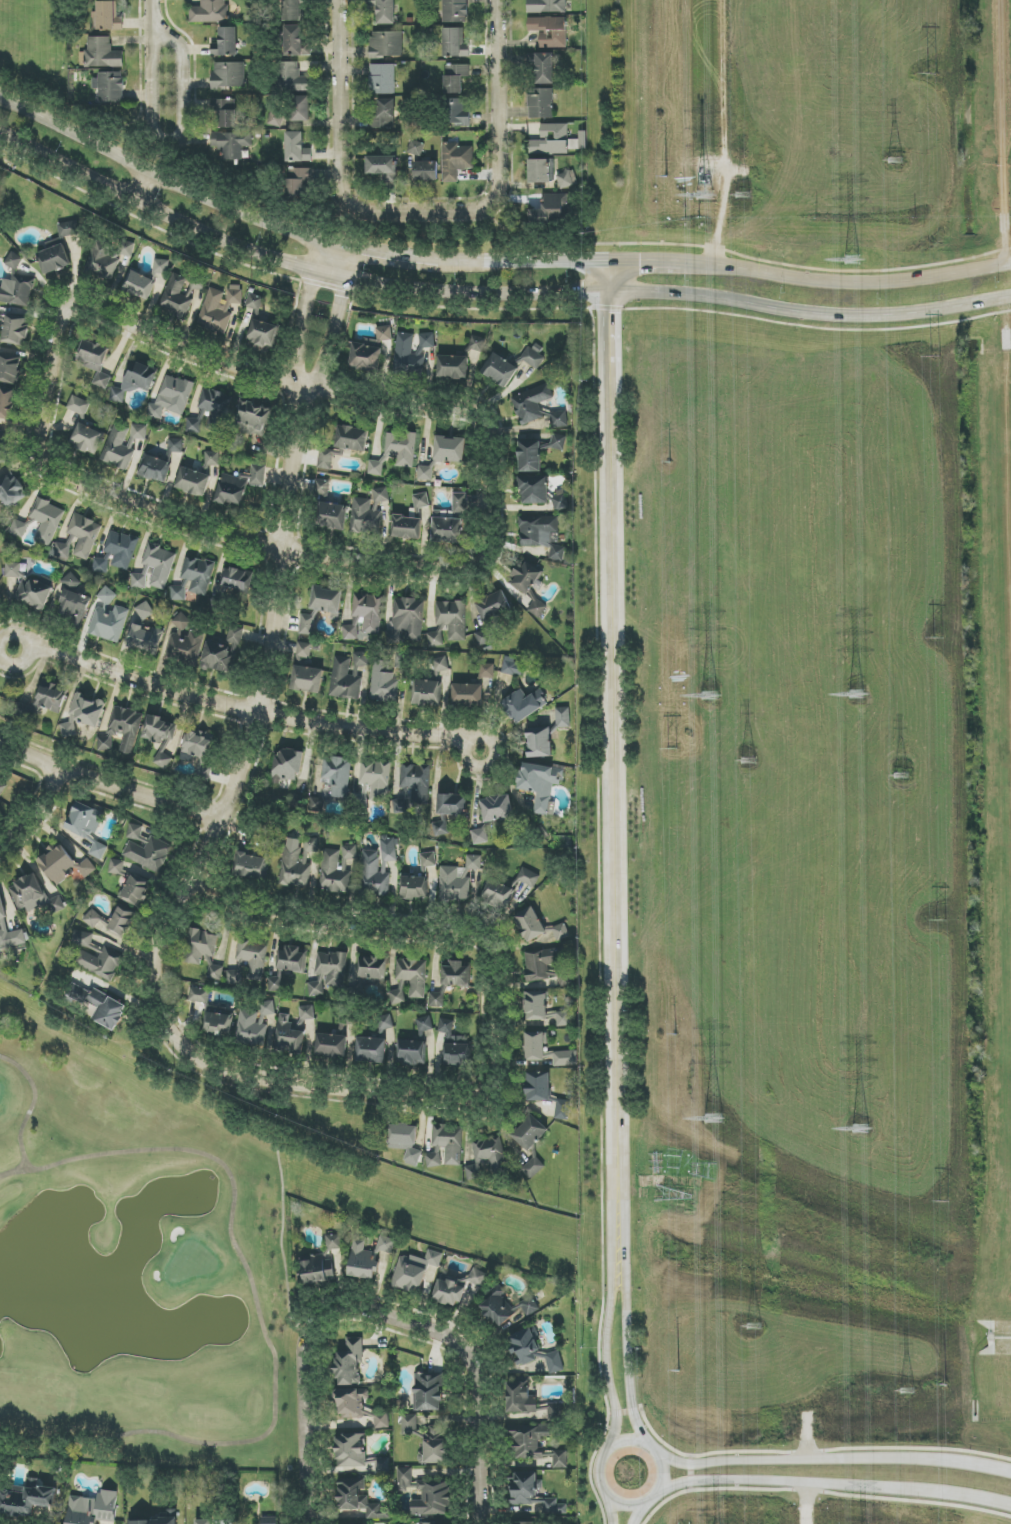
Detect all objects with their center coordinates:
road: (146, 5)
building: (293, 10)
building: (384, 11)
building: (455, 11)
building: (210, 12)
building: (106, 17)
building: (550, 31)
building: (296, 42)
building: (226, 43)
building: (454, 43)
building: (386, 44)
road: (496, 50)
building: (102, 53)
building: (544, 68)
power tower: (934, 73)
building: (229, 75)
building: (455, 77)
building: (294, 78)
building: (382, 79)
building: (110, 87)
road: (723, 99)
building: (540, 103)
building: (300, 109)
building: (458, 112)
building: (226, 113)
building: (385, 114)
building: (275, 117)
road: (173, 134)
building: (550, 140)
building: (231, 144)
building: (297, 148)
building: (416, 148)
power tower: (893, 160)
building: (456, 161)
building: (382, 166)
building: (426, 171)
building: (539, 171)
road: (167, 176)
power tower: (667, 177)
building: (567, 179)
building: (298, 181)
power tower: (705, 196)
power tower: (742, 197)
building: (551, 210)
road: (370, 212)
road: (722, 232)
building: (58, 249)
road: (389, 257)
building: (107, 258)
power tower: (852, 259)
building: (14, 261)
road: (524, 262)
road: (651, 262)
building: (161, 267)
road: (608, 279)
road: (851, 284)
building: (139, 285)
building: (17, 292)
road: (491, 293)
building: (176, 296)
building: (255, 304)
building: (219, 308)
road: (305, 313)
road: (336, 322)
building: (16, 330)
building: (384, 333)
building: (262, 334)
building: (477, 344)
road: (608, 345)
building: (411, 354)
building: (365, 357)
building: (534, 357)
power tower: (935, 357)
building: (95, 361)
building: (453, 367)
building: (10, 370)
building: (500, 370)
building: (135, 381)
road: (47, 388)
building: (172, 397)
building: (6, 403)
building: (531, 404)
building: (78, 405)
building: (215, 408)
building: (559, 419)
building: (193, 426)
building: (87, 438)
building: (352, 438)
building: (558, 442)
building: (122, 444)
building: (175, 445)
building: (401, 448)
building: (3, 449)
building: (450, 449)
building: (529, 456)
building: (327, 458)
building: (212, 459)
power tower: (670, 463)
building: (376, 467)
building: (154, 468)
building: (425, 473)
building: (193, 482)
building: (239, 485)
building: (322, 488)
building: (534, 490)
building: (12, 491)
building: (381, 495)
building: (560, 500)
building: (421, 501)
building: (460, 503)
road: (489, 503)
building: (331, 516)
building: (364, 517)
building: (47, 521)
building: (407, 527)
building: (18, 528)
building: (447, 528)
building: (537, 530)
building: (84, 535)
building: (121, 549)
building: (557, 553)
building: (100, 565)
building: (155, 568)
building: (198, 574)
building: (526, 576)
building: (236, 579)
building: (72, 581)
building: (29, 587)
building: (179, 592)
building: (0, 600)
building: (327, 601)
building: (74, 605)
building: (493, 606)
building: (537, 608)
building: (146, 611)
building: (369, 611)
building: (109, 618)
building: (452, 618)
building: (407, 620)
building: (307, 625)
building: (351, 631)
building: (436, 637)
building: (484, 637)
building: (146, 638)
power tower: (938, 639)
building: (185, 642)
building: (304, 650)
building: (223, 652)
building: (361, 659)
building: (402, 661)
building: (441, 664)
building: (512, 667)
building: (487, 670)
building: (307, 679)
building: (345, 680)
building: (384, 682)
building: (426, 693)
building: (467, 694)
power tower: (857, 695)
power tower: (708, 697)
building: (51, 698)
building: (523, 705)
road: (244, 711)
building: (83, 714)
building: (563, 717)
building: (122, 730)
building: (161, 739)
building: (539, 742)
building: (198, 748)
power tower: (674, 750)
power tower: (748, 763)
building: (287, 765)
building: (337, 775)
power tower: (897, 776)
building: (376, 779)
building: (416, 782)
building: (541, 785)
building: (2, 787)
road: (109, 793)
building: (317, 805)
building: (452, 805)
building: (496, 808)
road: (607, 808)
building: (84, 820)
road: (39, 824)
building: (440, 828)
building: (480, 836)
building: (146, 849)
building: (388, 849)
building: (98, 850)
building: (428, 859)
building: (297, 861)
building: (57, 864)
road: (205, 864)
building: (251, 866)
building: (116, 867)
building: (86, 868)
building: (337, 869)
building: (374, 874)
building: (528, 877)
building: (458, 880)
building: (414, 888)
building: (136, 890)
building: (28, 893)
building: (498, 893)
building: (2, 908)
building: (95, 919)
building: (122, 922)
power tower: (940, 922)
building: (530, 924)
building: (560, 932)
building: (17, 938)
road: (430, 942)
building: (200, 946)
building: (95, 956)
building: (253, 956)
building: (290, 958)
building: (547, 966)
building: (371, 969)
building: (215, 972)
building: (328, 973)
building: (455, 974)
building: (235, 975)
building: (413, 975)
building: (276, 980)
building: (199, 995)
building: (397, 997)
building: (437, 1000)
building: (267, 1008)
building: (543, 1009)
building: (107, 1010)
building: (307, 1013)
building: (386, 1023)
building: (218, 1024)
building: (424, 1024)
building: (251, 1028)
building: (289, 1035)
power tower: (676, 1035)
building: (331, 1045)
building: (454, 1045)
building: (534, 1046)
building: (371, 1050)
building: (411, 1052)
building: (565, 1058)
building: (538, 1087)
building: (562, 1110)
power tower: (713, 1121)
power tower: (862, 1131)
building: (530, 1133)
building: (405, 1141)
building: (445, 1146)
building: (487, 1157)
building: (533, 1167)
power tower: (944, 1205)
building: (334, 1241)
park: (135, 1257)
building: (368, 1257)
building: (319, 1268)
building: (414, 1271)
building: (456, 1286)
building: (506, 1309)
road: (373, 1313)
power tower: (678, 1321)
power tower: (754, 1329)
road: (630, 1331)
road: (611, 1334)
building: (524, 1347)
building: (350, 1363)
building: (554, 1363)
power tower: (904, 1390)
building: (428, 1392)
building: (521, 1398)
building: (358, 1406)
building: (555, 1412)
road: (628, 1412)
building: (409, 1424)
road: (808, 1433)
building: (528, 1442)
road: (619, 1444)
building: (358, 1455)
building: (560, 1459)
road: (793, 1459)
power tower: (945, 1462)
road: (971, 1465)
road: (691, 1472)
road: (812, 1483)
building: (530, 1492)
building: (427, 1495)
building: (27, 1499)
building: (358, 1500)
road: (988, 1500)
road: (808, 1503)
building: (93, 1508)
road: (616, 1510)
road: (643, 1512)
building: (171, 1514)
building: (269, 1520)
building: (204, 1522)
building: (523, 1523)

